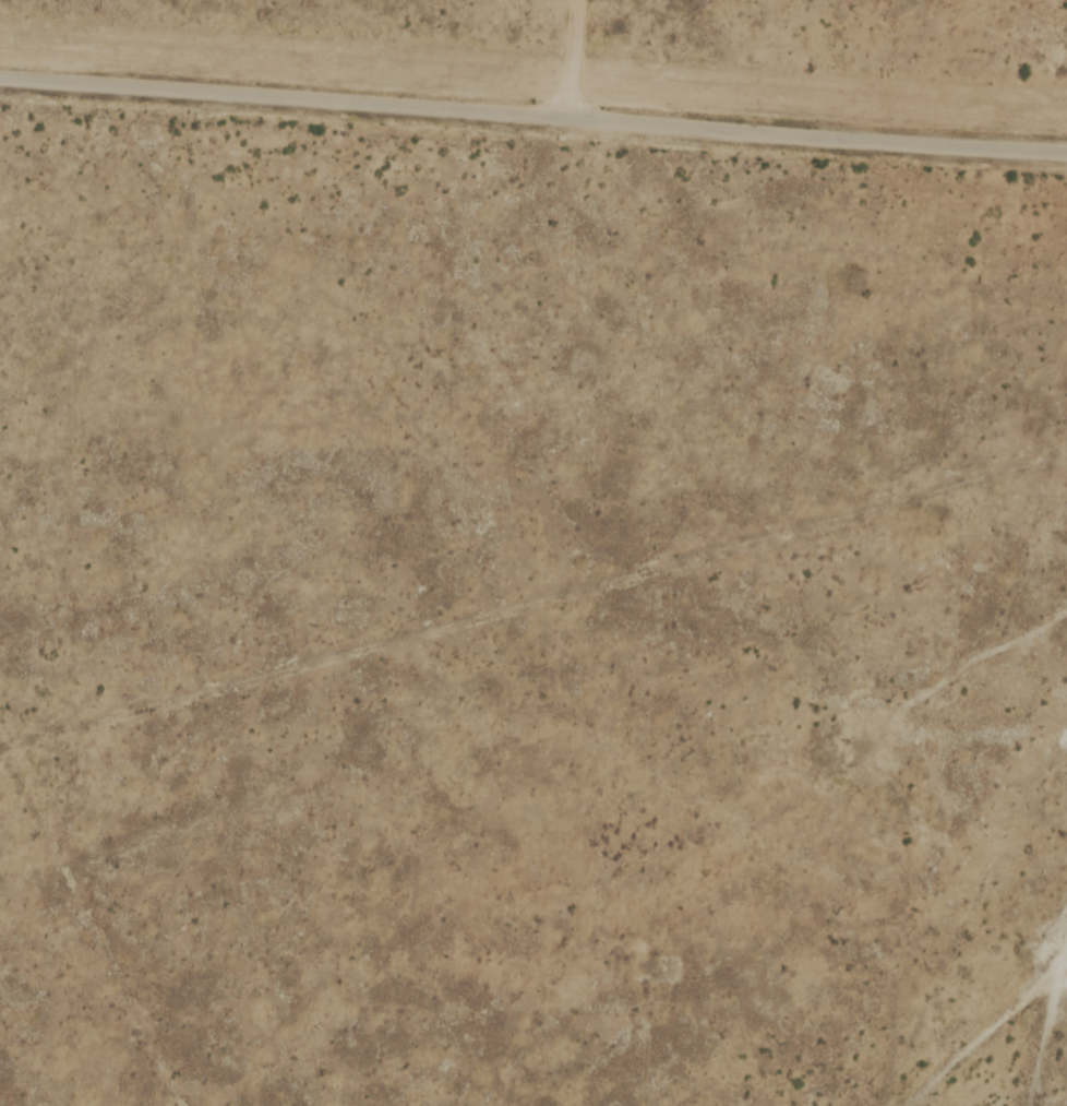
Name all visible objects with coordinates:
road: (533, 118)
road: (962, 668)
road: (1066, 936)
road: (1066, 937)
road: (1038, 1015)

